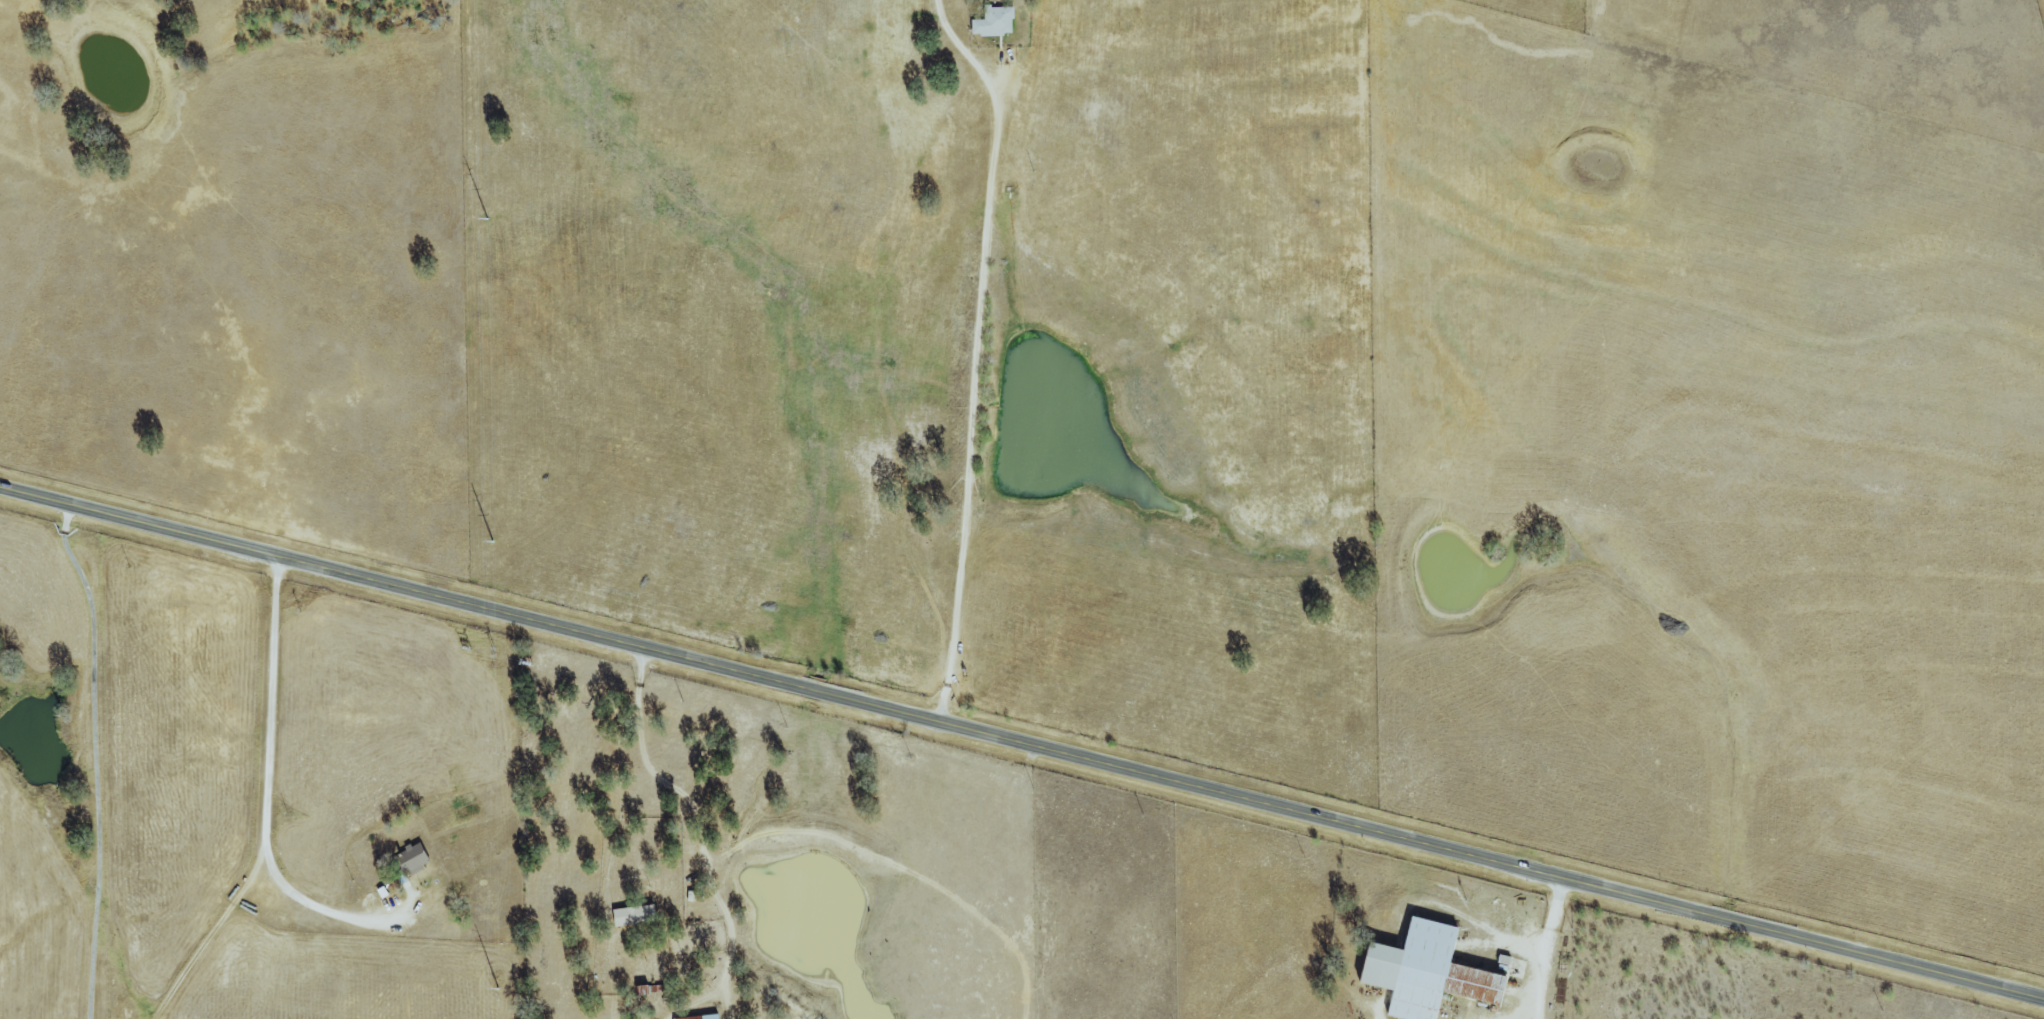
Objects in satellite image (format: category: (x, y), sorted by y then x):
building: (994, 21)
power tower: (487, 219)
road: (973, 351)
power tower: (492, 542)
road: (1022, 742)
road: (95, 758)
road: (618, 766)
road: (484, 789)
road: (263, 791)
building: (411, 858)
building: (634, 915)
road: (1542, 947)
building: (1424, 972)
power tower: (498, 989)
building: (703, 1016)

